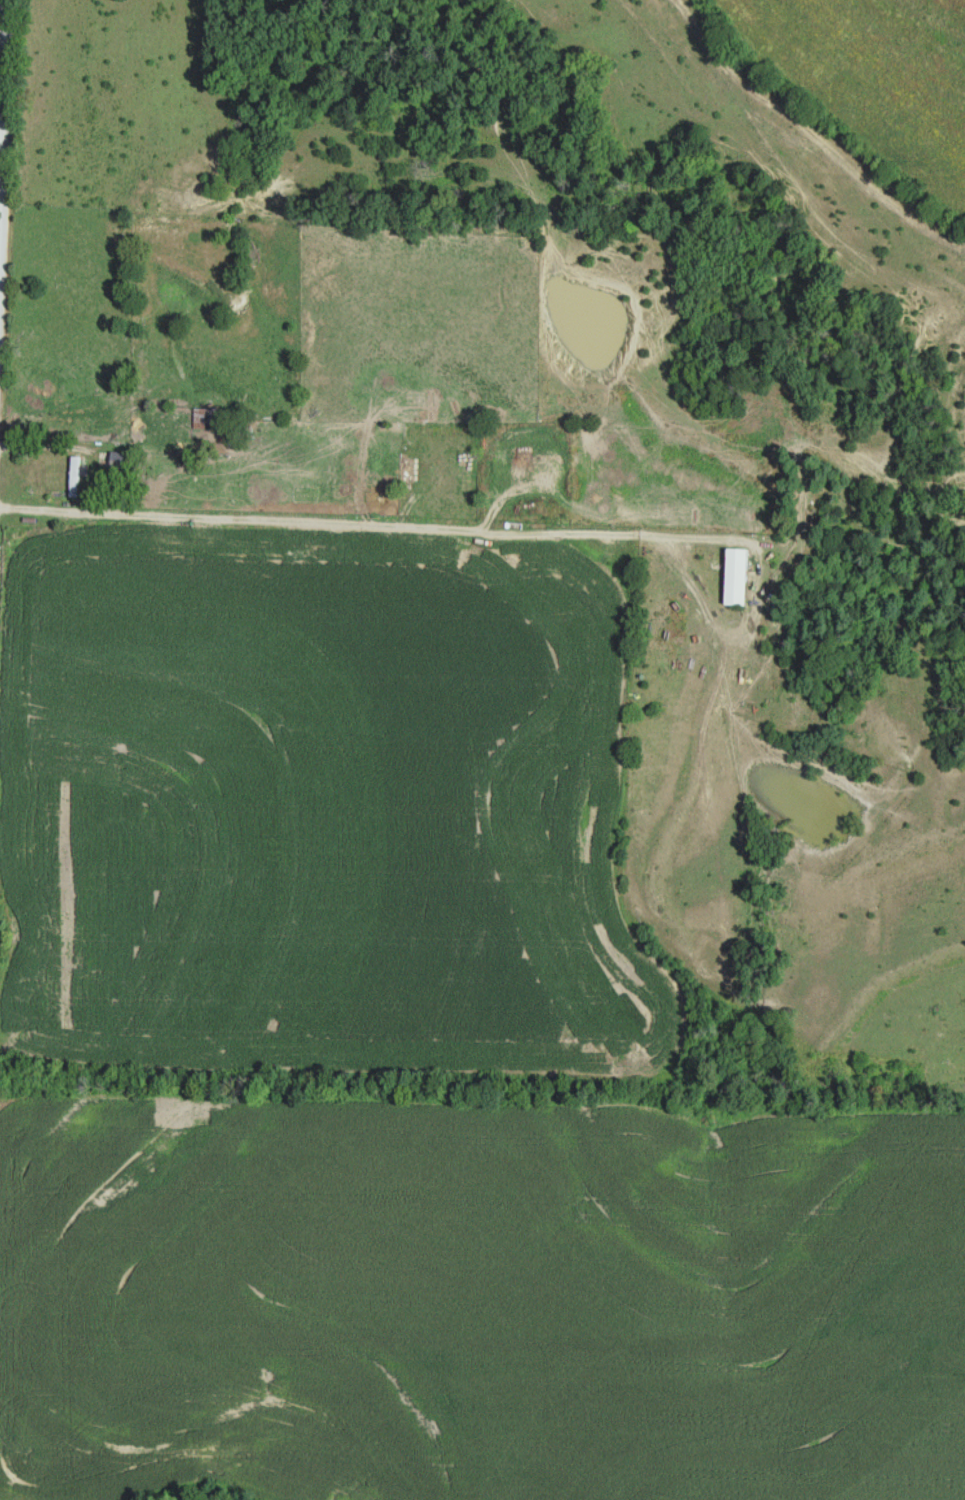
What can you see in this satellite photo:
road: (1, 58)
building: (204, 418)
building: (119, 460)
building: (404, 470)
building: (74, 476)
road: (318, 520)
building: (737, 577)

